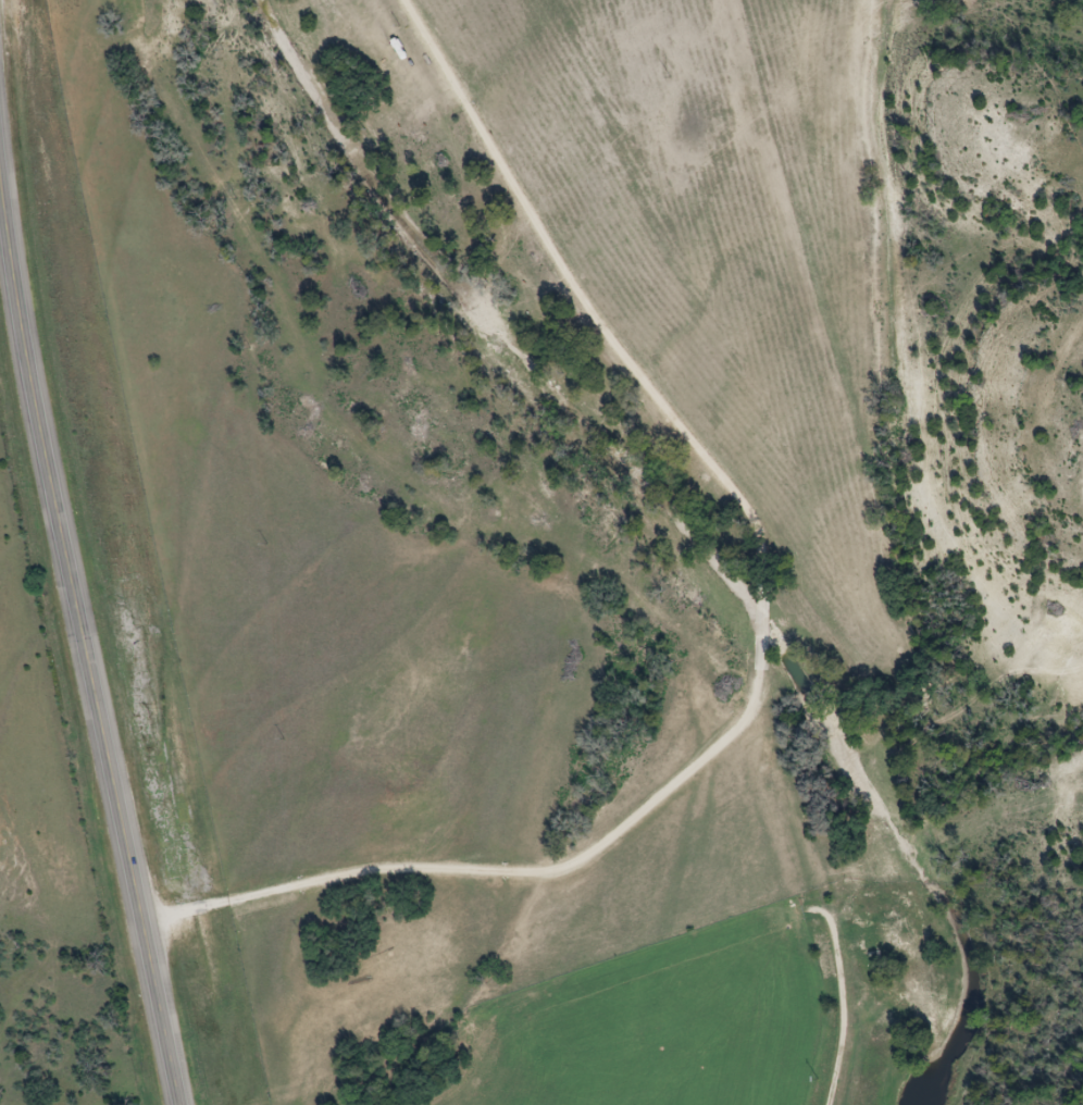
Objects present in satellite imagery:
road: (89, 637)

